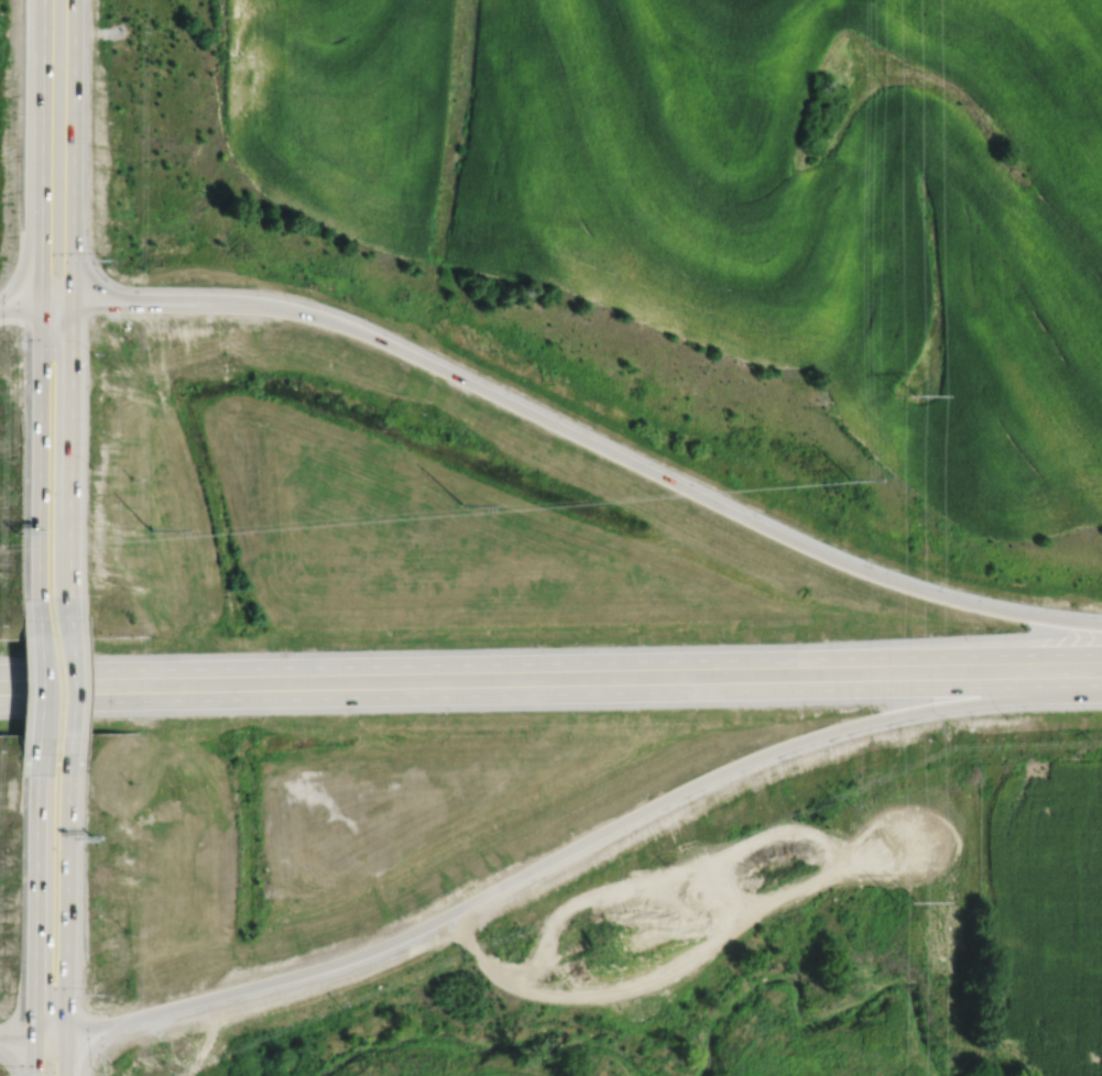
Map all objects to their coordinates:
road: (43, 10)
street lamp: (12, 112)
road: (72, 150)
road: (41, 161)
crop: (739, 196)
street lamp: (11, 210)
street lamp: (102, 259)
traffic signals: (72, 300)
road: (162, 300)
road: (56, 301)
traffic signals: (41, 303)
road: (20, 306)
street lamp: (8, 347)
street lamp: (90, 353)
power tower: (904, 396)
road: (70, 430)
road: (39, 460)
street lamp: (89, 465)
road: (672, 481)
power tower: (848, 481)
power tower: (457, 507)
power tower: (150, 531)
road: (69, 589)
street lamp: (1072, 603)
street lamp: (989, 627)
road: (978, 655)
road: (427, 663)
road: (67, 683)
road: (36, 684)
road: (940, 687)
road: (389, 695)
street lamp: (861, 706)
street lamp: (1089, 712)
street lamp: (1004, 716)
street lamp: (946, 723)
road: (610, 827)
road: (821, 847)
street lamp: (13, 860)
road: (615, 883)
road: (728, 889)
road: (65, 892)
road: (35, 896)
power tower: (906, 903)
crop: (1041, 913)
street lamp: (12, 958)
road: (534, 970)
road: (557, 973)
street lamp: (96, 993)
road: (587, 996)
road: (99, 1025)
traffic signals: (64, 1034)
road: (48, 1036)
road: (17, 1039)
traffic signals: (34, 1039)
road: (64, 1055)
road: (33, 1057)
street lamp: (1, 1070)

